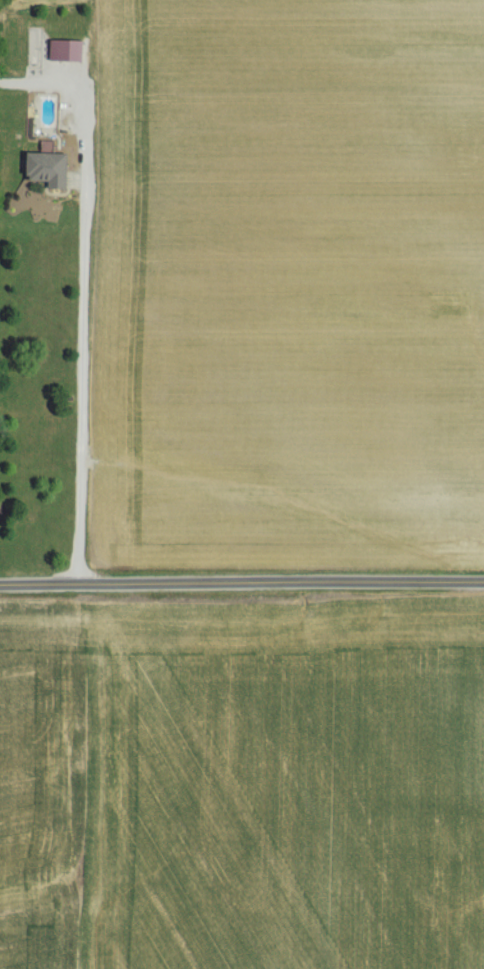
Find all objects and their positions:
building: (64, 52)
road: (61, 90)
building: (46, 169)
road: (83, 364)
road: (241, 582)

